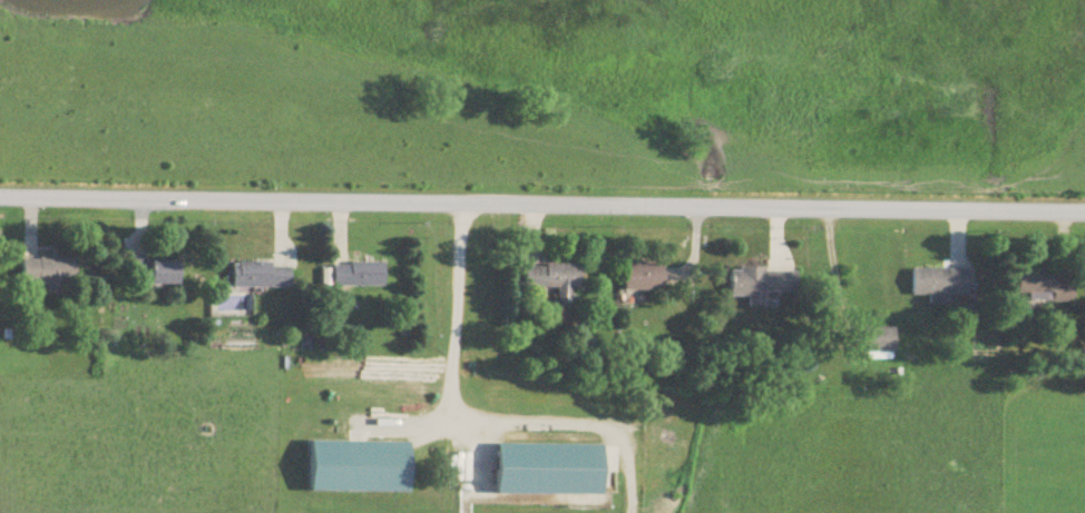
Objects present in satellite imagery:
road: (542, 205)
building: (155, 274)
building: (49, 275)
building: (359, 276)
building: (262, 277)
building: (645, 278)
building: (554, 283)
building: (941, 285)
building: (762, 286)
building: (1044, 288)
building: (879, 345)
road: (480, 414)
crop: (870, 440)

